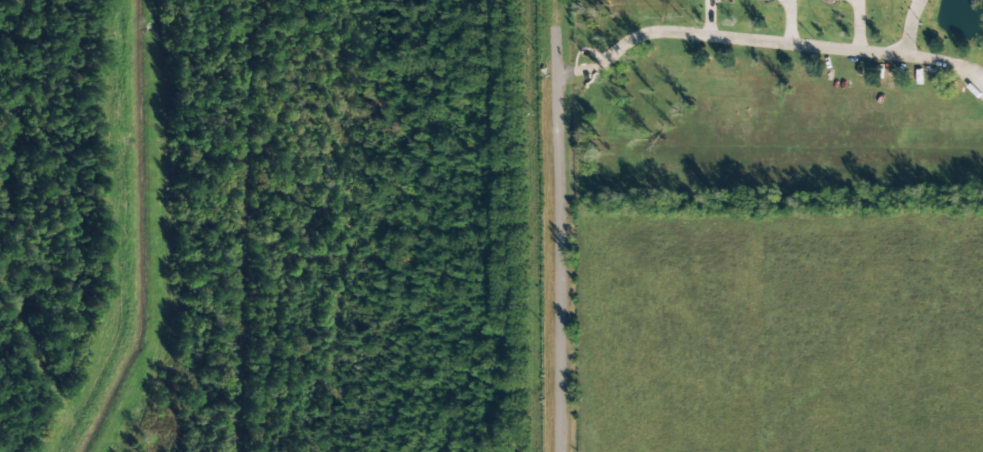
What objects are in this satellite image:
building: (830, 0)
road: (906, 27)
road: (767, 44)
road: (560, 225)

